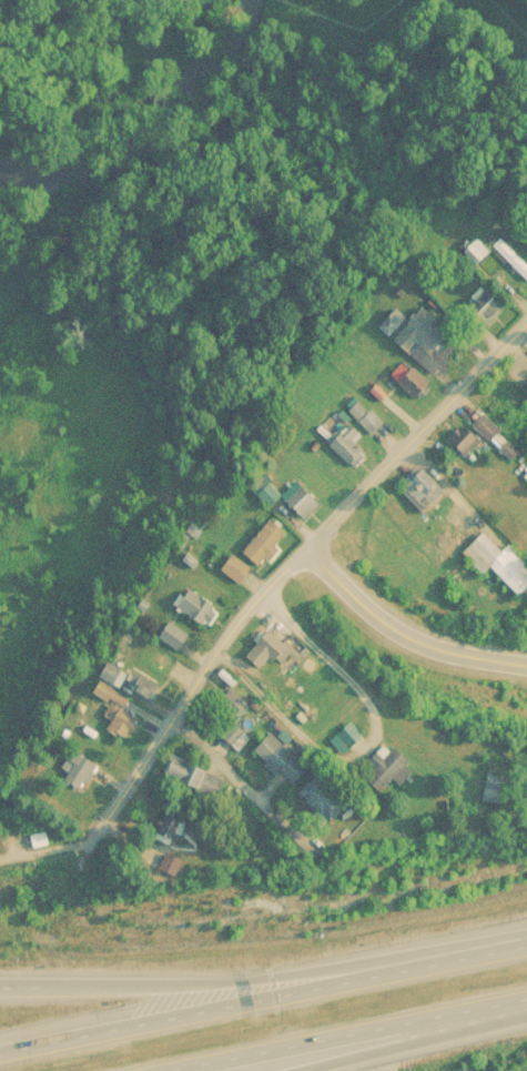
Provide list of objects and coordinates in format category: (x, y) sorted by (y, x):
building: (511, 259)
building: (486, 306)
building: (420, 337)
building: (409, 382)
building: (511, 393)
building: (364, 416)
building: (487, 428)
building: (467, 441)
building: (347, 445)
building: (423, 488)
building: (267, 494)
building: (301, 499)
building: (265, 543)
building: (499, 560)
building: (235, 567)
road: (286, 569)
building: (201, 605)
road: (404, 630)
building: (175, 638)
building: (270, 648)
road: (310, 650)
building: (116, 677)
building: (144, 691)
building: (120, 720)
building: (236, 737)
building: (281, 758)
building: (81, 772)
building: (194, 774)
road: (242, 782)
building: (511, 788)
building: (330, 796)
building: (171, 866)
road: (484, 949)
road: (221, 972)
road: (221, 1007)
road: (341, 1030)
road: (368, 1033)

